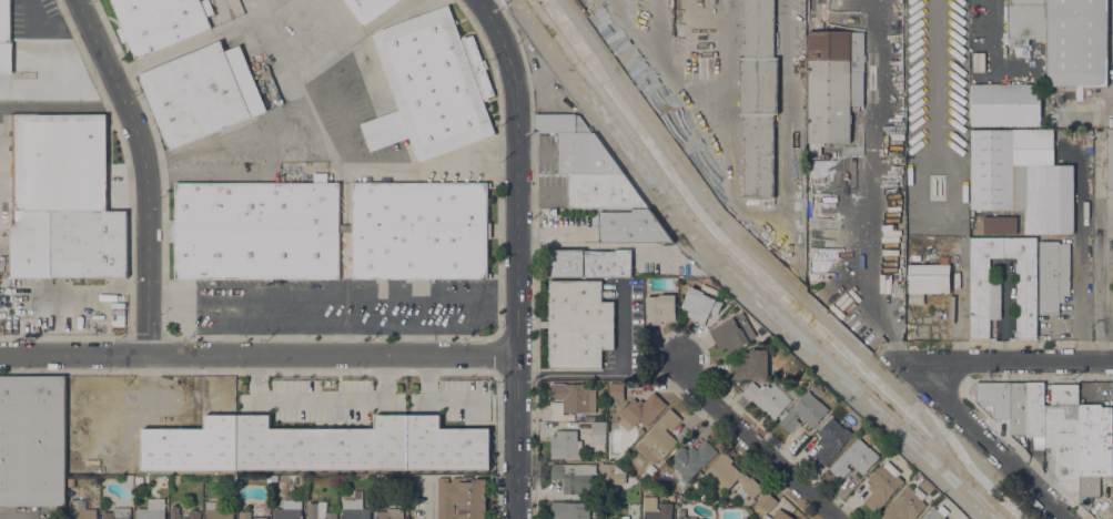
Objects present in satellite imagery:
road: (257, 7)
road: (267, 7)
building: (368, 9)
road: (252, 16)
road: (337, 18)
road: (989, 20)
building: (1025, 20)
building: (160, 22)
road: (357, 35)
building: (6, 38)
building: (1077, 42)
building: (833, 84)
building: (432, 85)
building: (201, 93)
building: (758, 96)
building: (1005, 104)
road: (1087, 104)
road: (62, 106)
building: (559, 123)
road: (321, 140)
building: (940, 149)
building: (583, 154)
building: (58, 162)
building: (1110, 163)
road: (144, 170)
building: (910, 170)
building: (1022, 177)
building: (601, 191)
building: (915, 200)
building: (918, 222)
building: (630, 225)
building: (1000, 225)
building: (330, 230)
road: (552, 234)
building: (68, 243)
road: (745, 247)
road: (516, 255)
building: (915, 258)
building: (1112, 258)
building: (943, 259)
road: (1082, 259)
building: (589, 263)
building: (4, 264)
road: (717, 273)
building: (1053, 276)
building: (927, 281)
road: (332, 294)
road: (74, 297)
building: (985, 298)
building: (701, 303)
building: (660, 307)
building: (578, 324)
building: (732, 333)
road: (257, 355)
road: (1015, 360)
building: (750, 365)
road: (614, 373)
building: (616, 390)
building: (768, 395)
building: (575, 397)
building: (994, 397)
road: (151, 399)
road: (434, 399)
road: (320, 401)
building: (1018, 408)
building: (1034, 409)
building: (641, 411)
building: (803, 413)
building: (598, 431)
building: (1063, 432)
building: (659, 438)
building: (831, 440)
building: (1094, 440)
building: (1112, 440)
building: (32, 441)
road: (753, 441)
road: (990, 444)
building: (362, 445)
building: (566, 445)
building: (200, 457)
building: (854, 459)
building: (691, 460)
building: (613, 474)
building: (574, 476)
building: (728, 476)
building: (403, 480)
building: (633, 480)
building: (92, 481)
building: (386, 482)
building: (882, 486)
road: (1005, 488)
building: (1087, 490)
building: (461, 498)
building: (686, 499)
building: (767, 501)
building: (905, 505)
building: (153, 509)
building: (354, 509)
building: (656, 509)
building: (80, 510)
building: (290, 510)
building: (571, 510)
building: (217, 511)
building: (320, 511)
building: (938, 512)
building: (118, 513)
building: (183, 513)
building: (388, 513)
building: (684, 515)
building: (249, 516)
building: (778, 516)
building: (623, 517)

